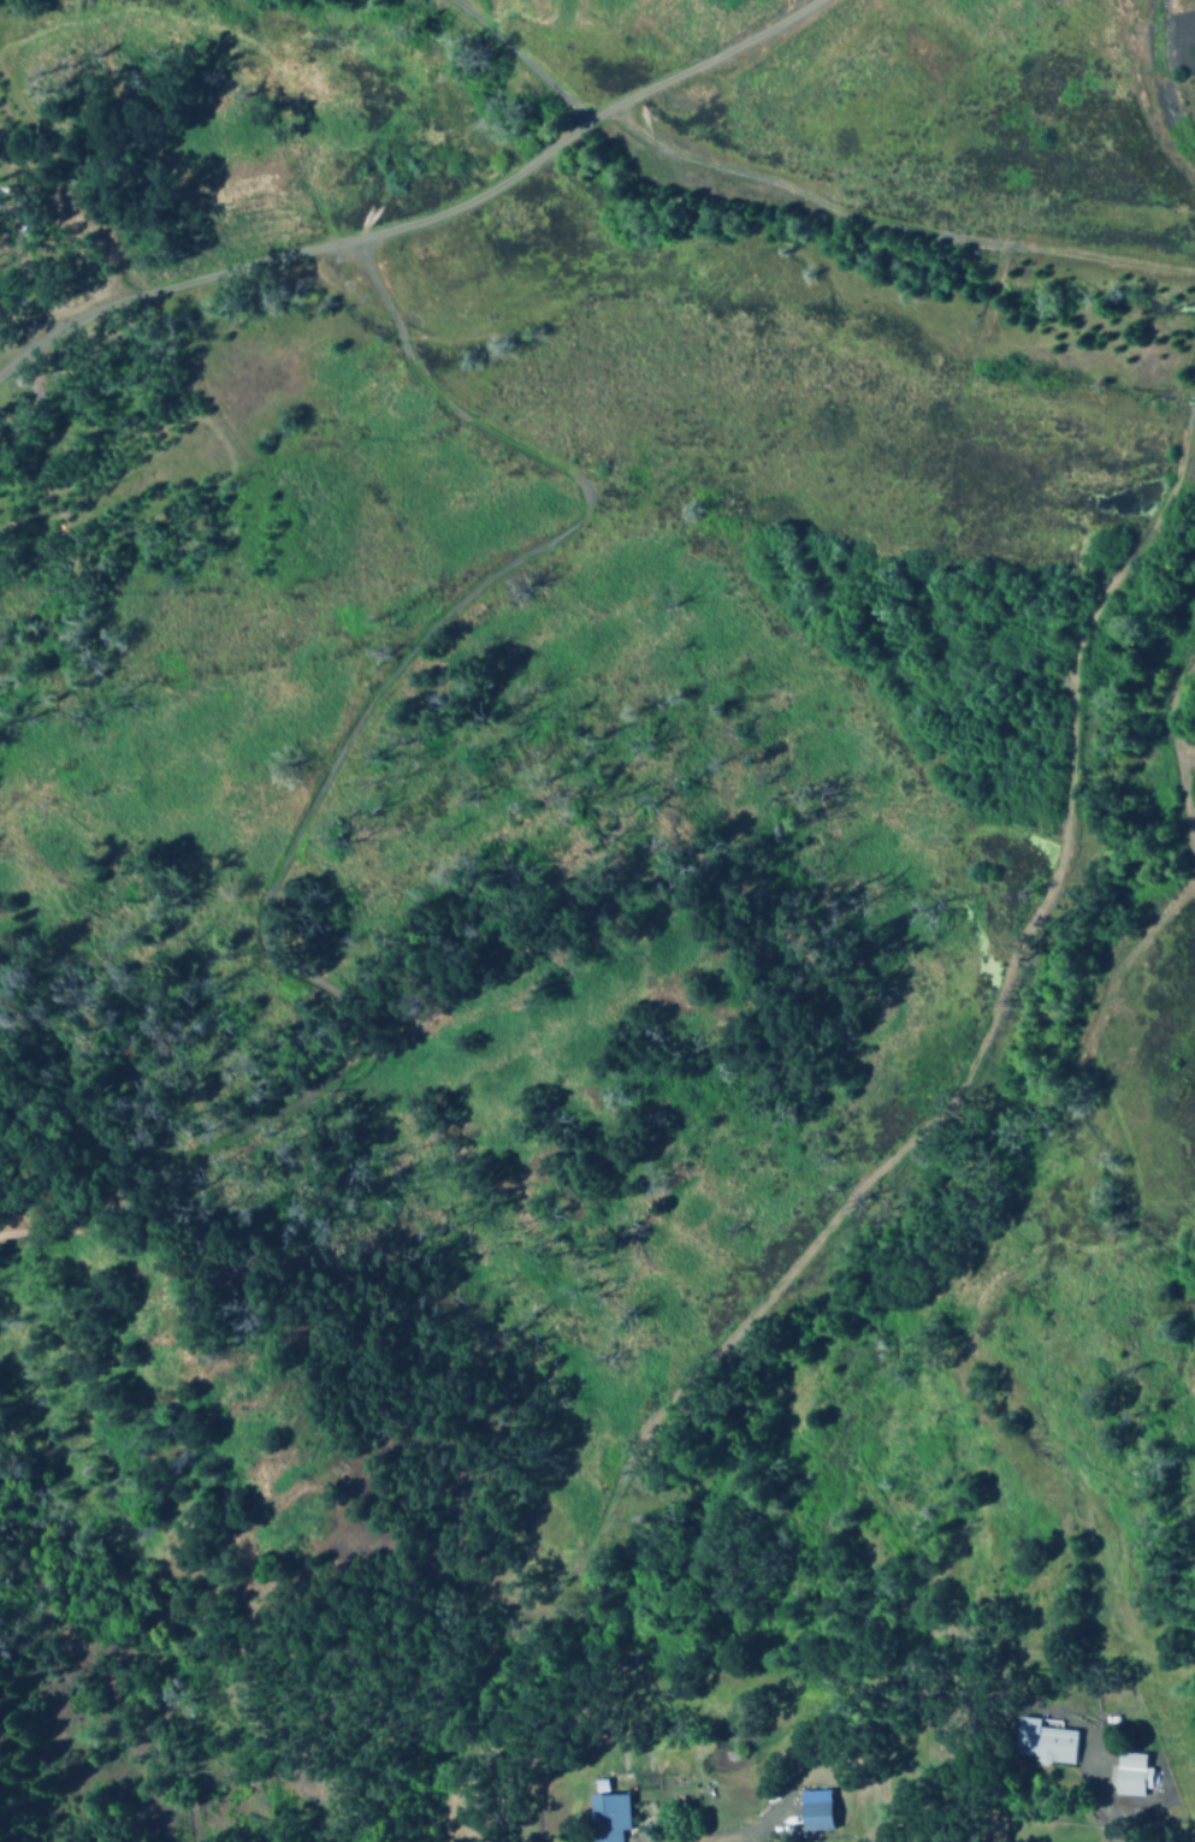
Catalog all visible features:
road: (523, 59)
road: (420, 221)
road: (325, 775)
building: (1040, 1741)
building: (1129, 1773)
road: (1100, 1788)
building: (811, 1810)
building: (605, 1813)

